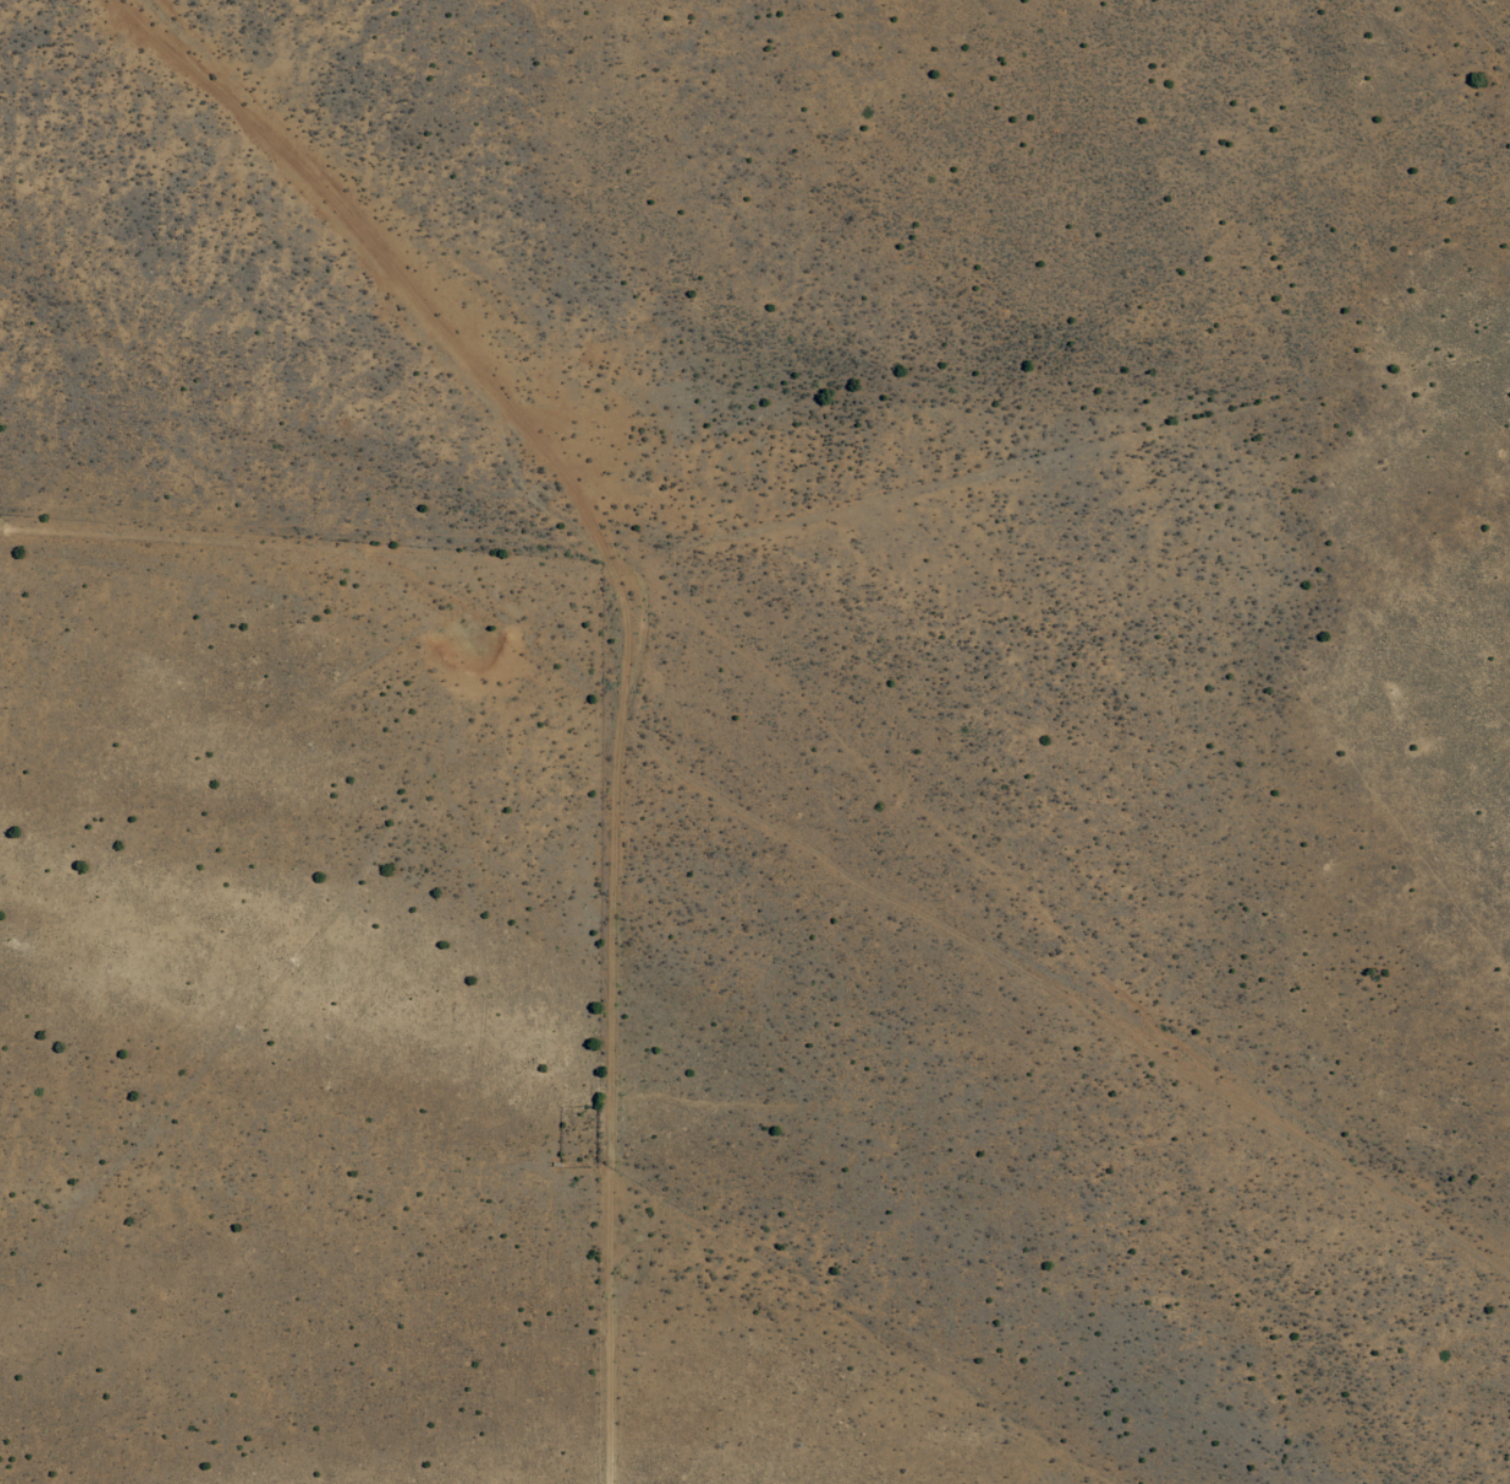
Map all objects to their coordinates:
road: (619, 712)

